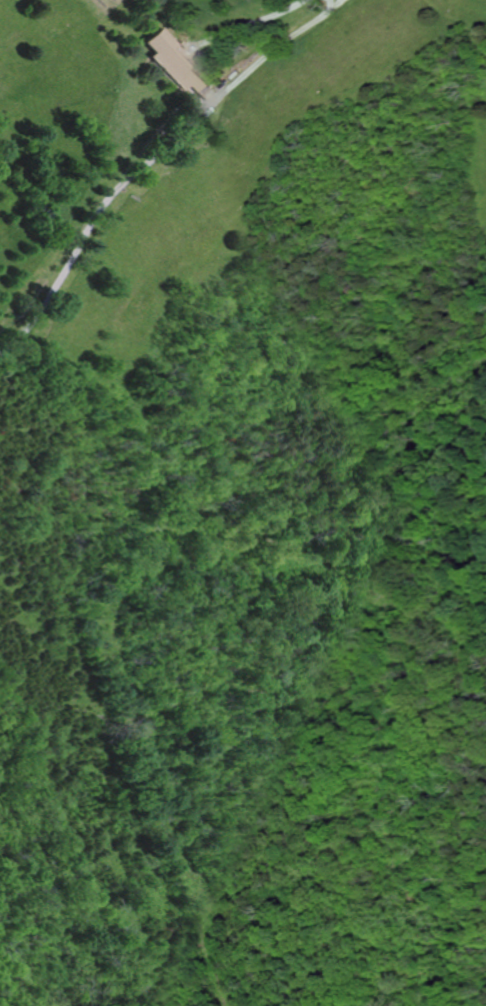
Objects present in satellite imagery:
road: (263, 60)
building: (178, 68)
road: (88, 232)

